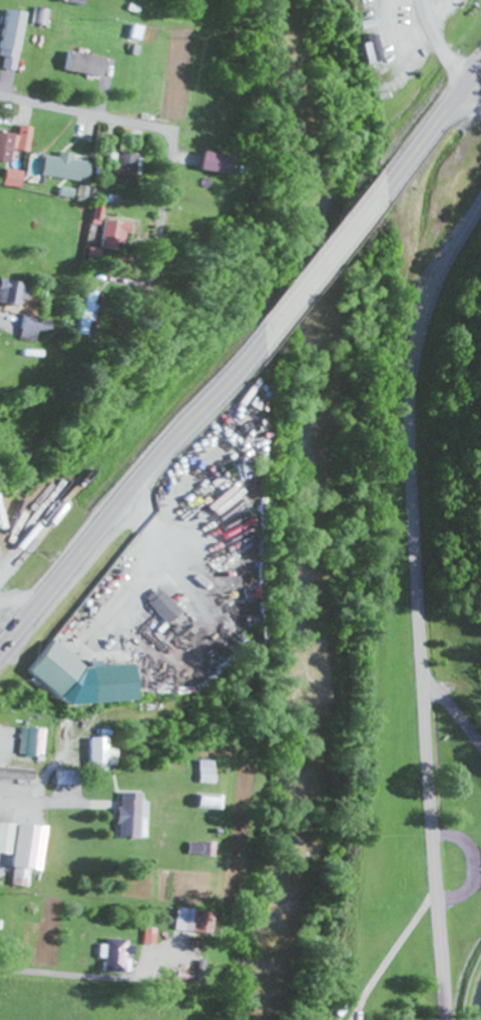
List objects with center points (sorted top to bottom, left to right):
building: (128, 34)
road: (445, 42)
building: (10, 50)
building: (362, 52)
building: (77, 65)
road: (480, 78)
road: (46, 106)
road: (427, 139)
building: (13, 145)
building: (202, 164)
building: (60, 169)
building: (118, 170)
road: (164, 177)
building: (11, 180)
building: (107, 237)
road: (319, 263)
building: (17, 317)
road: (134, 485)
river: (310, 509)
road: (263, 569)
building: (158, 607)
road: (423, 615)
building: (37, 678)
road: (456, 707)
building: (30, 744)
building: (94, 756)
building: (196, 774)
road: (57, 789)
building: (129, 817)
building: (10, 839)
building: (22, 879)
building: (186, 922)
building: (145, 944)
road: (58, 974)
building: (180, 978)

